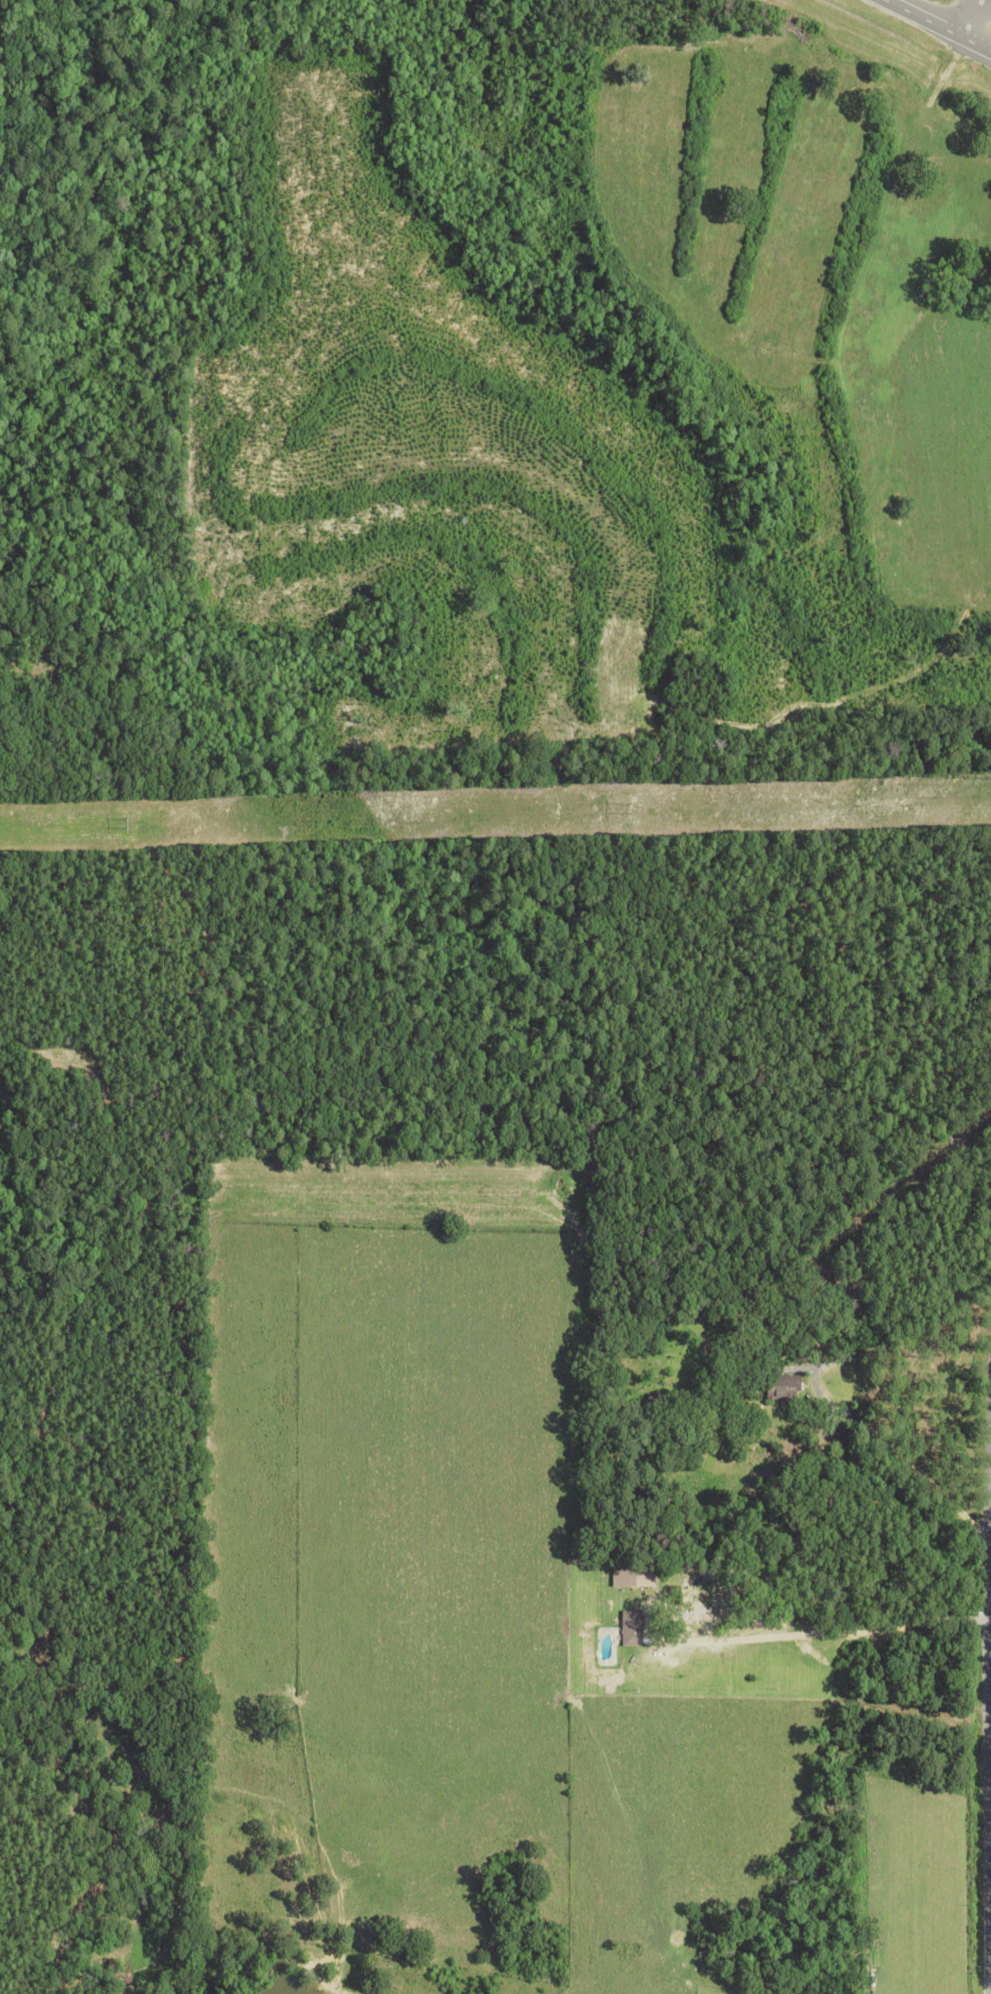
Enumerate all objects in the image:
road: (969, 18)
road: (938, 25)
building: (788, 1389)
building: (634, 1575)
road: (827, 1626)
building: (632, 1627)
road: (990, 1723)

